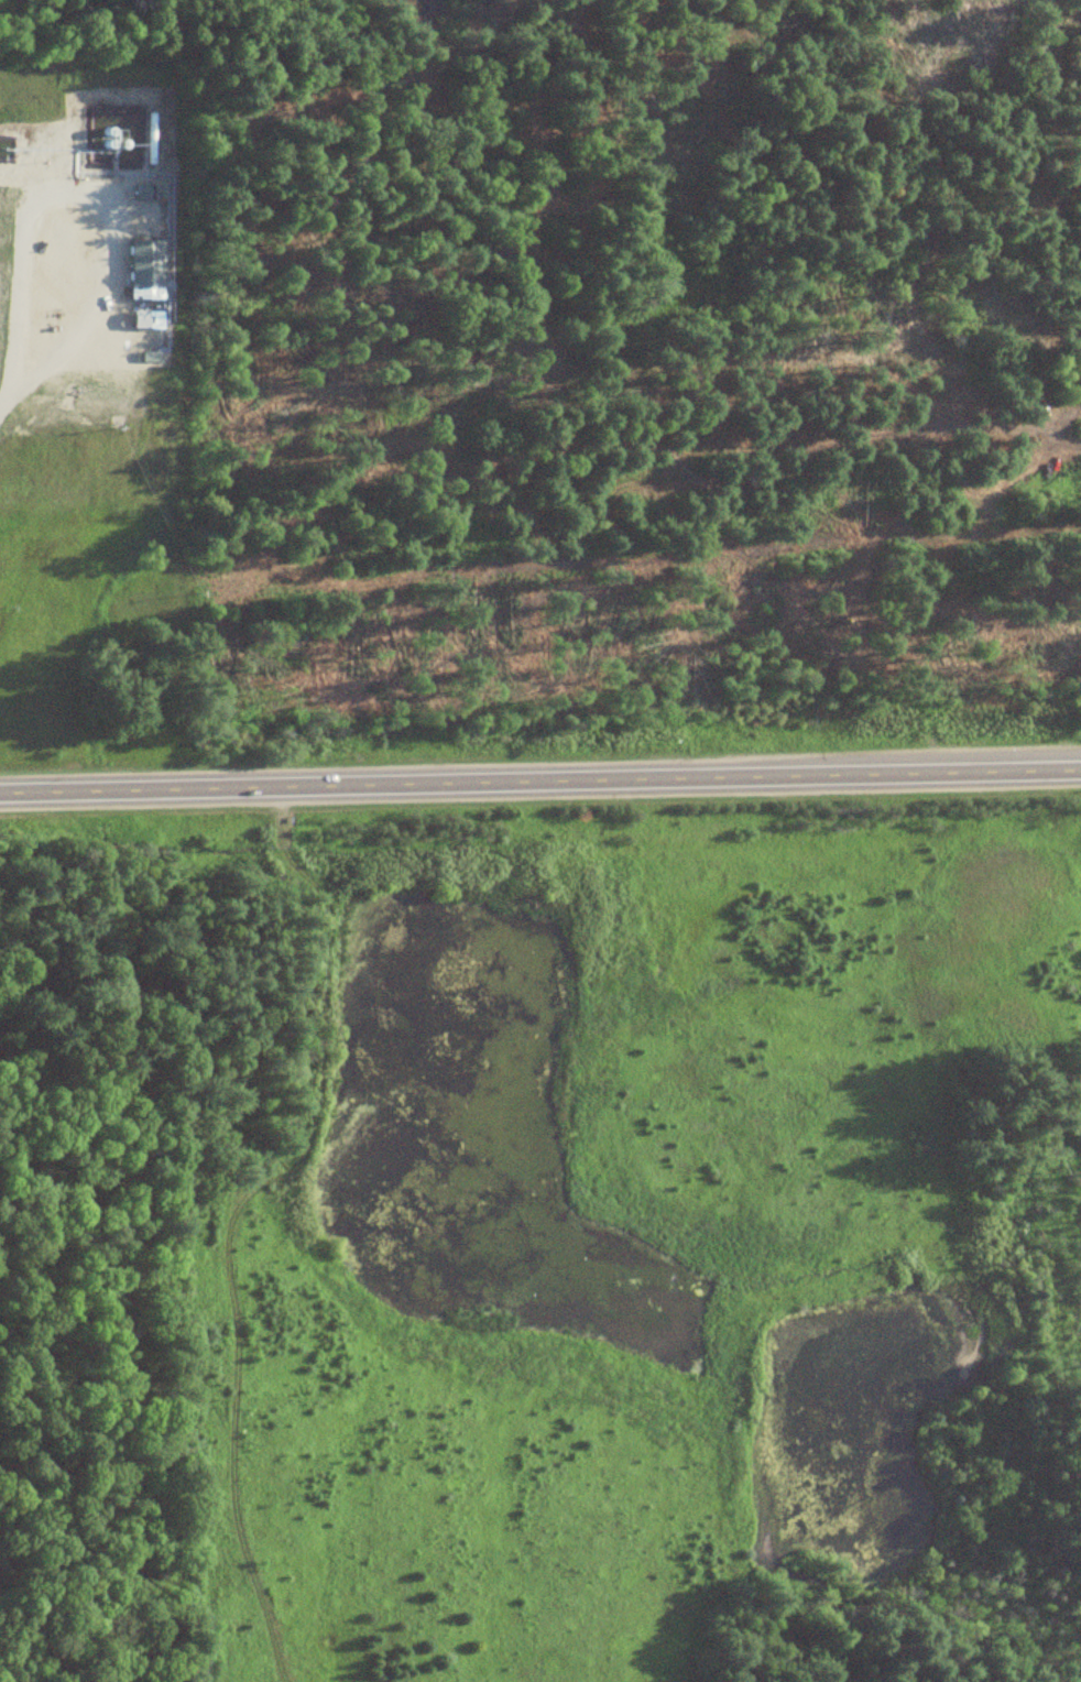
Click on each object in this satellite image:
building: (140, 192)
road: (96, 218)
building: (143, 270)
road: (539, 778)

